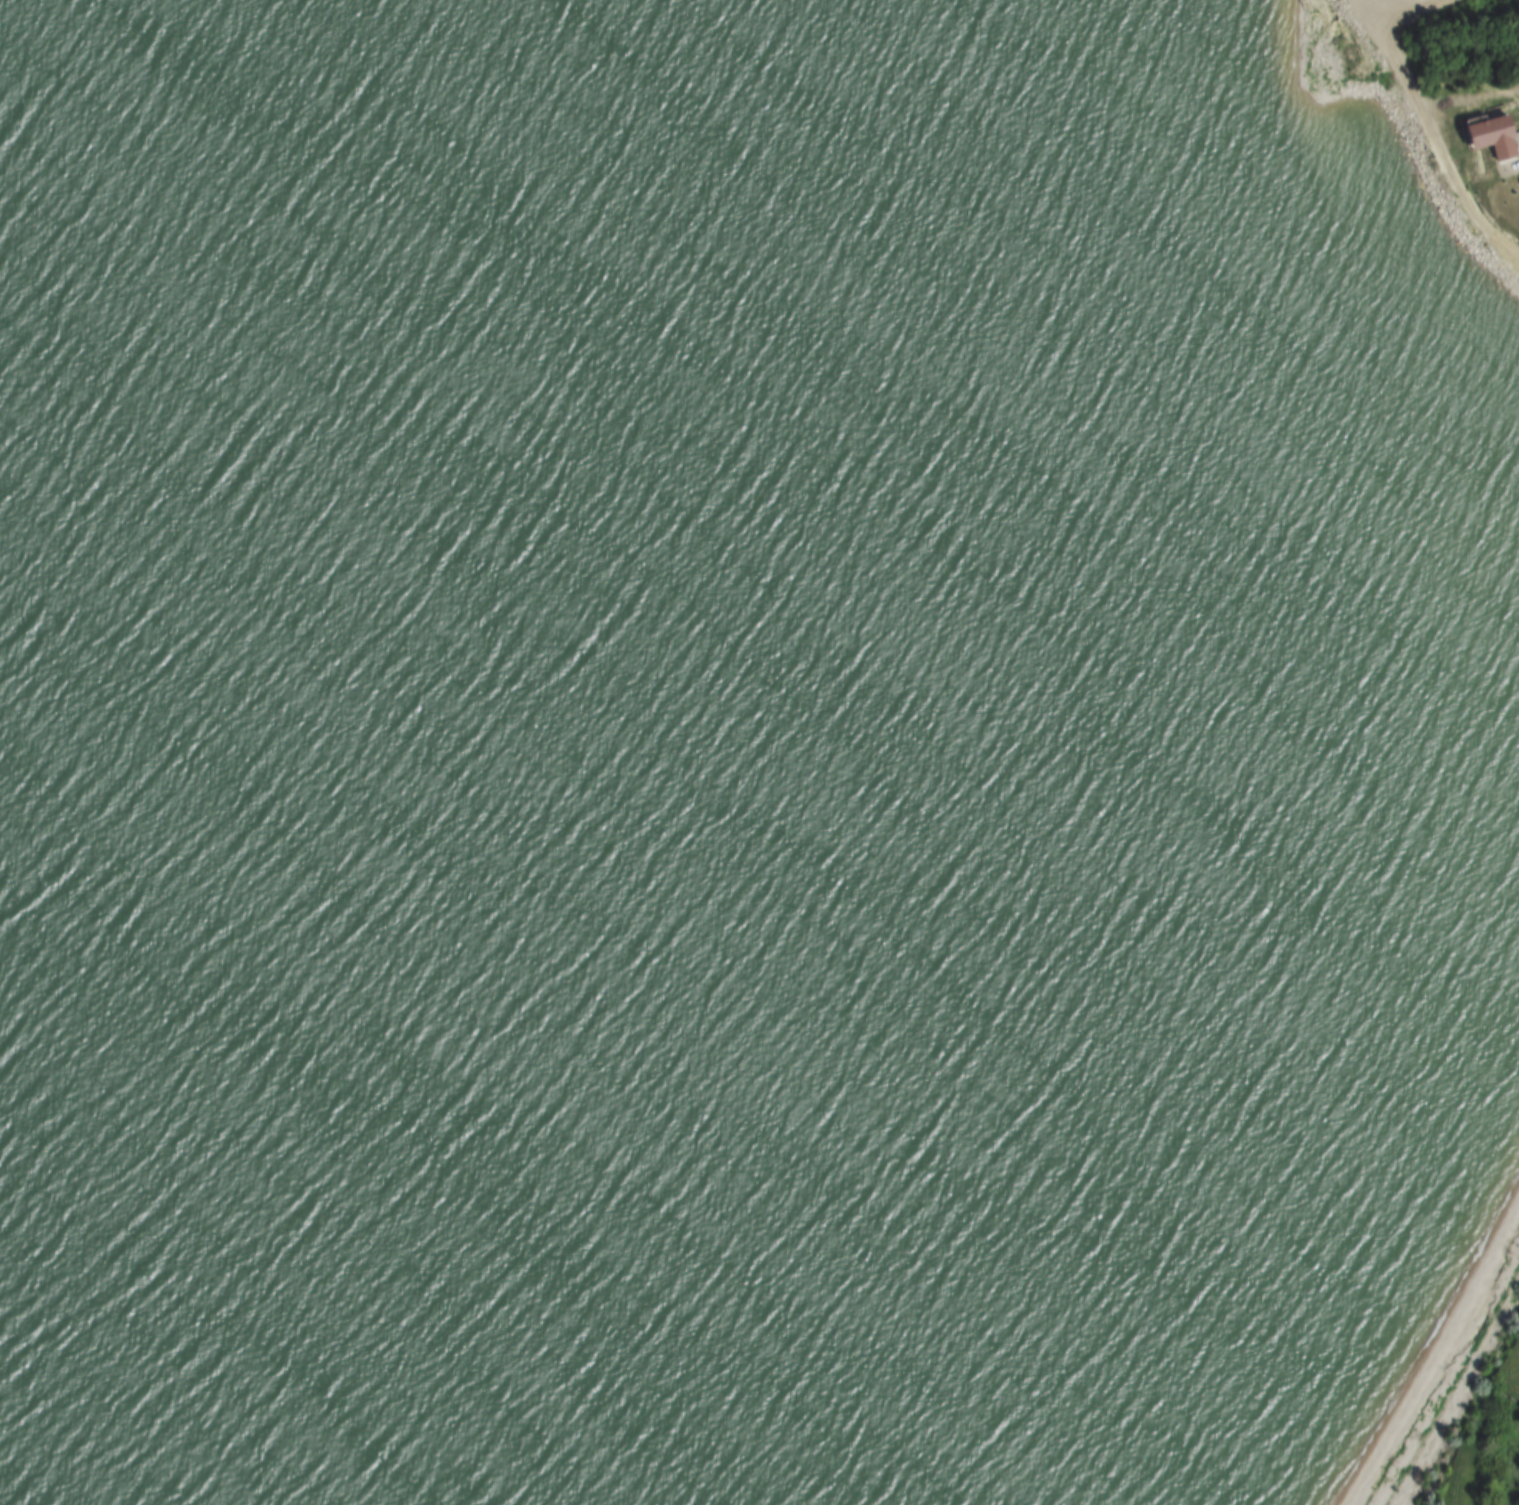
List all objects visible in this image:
building: (1492, 136)

